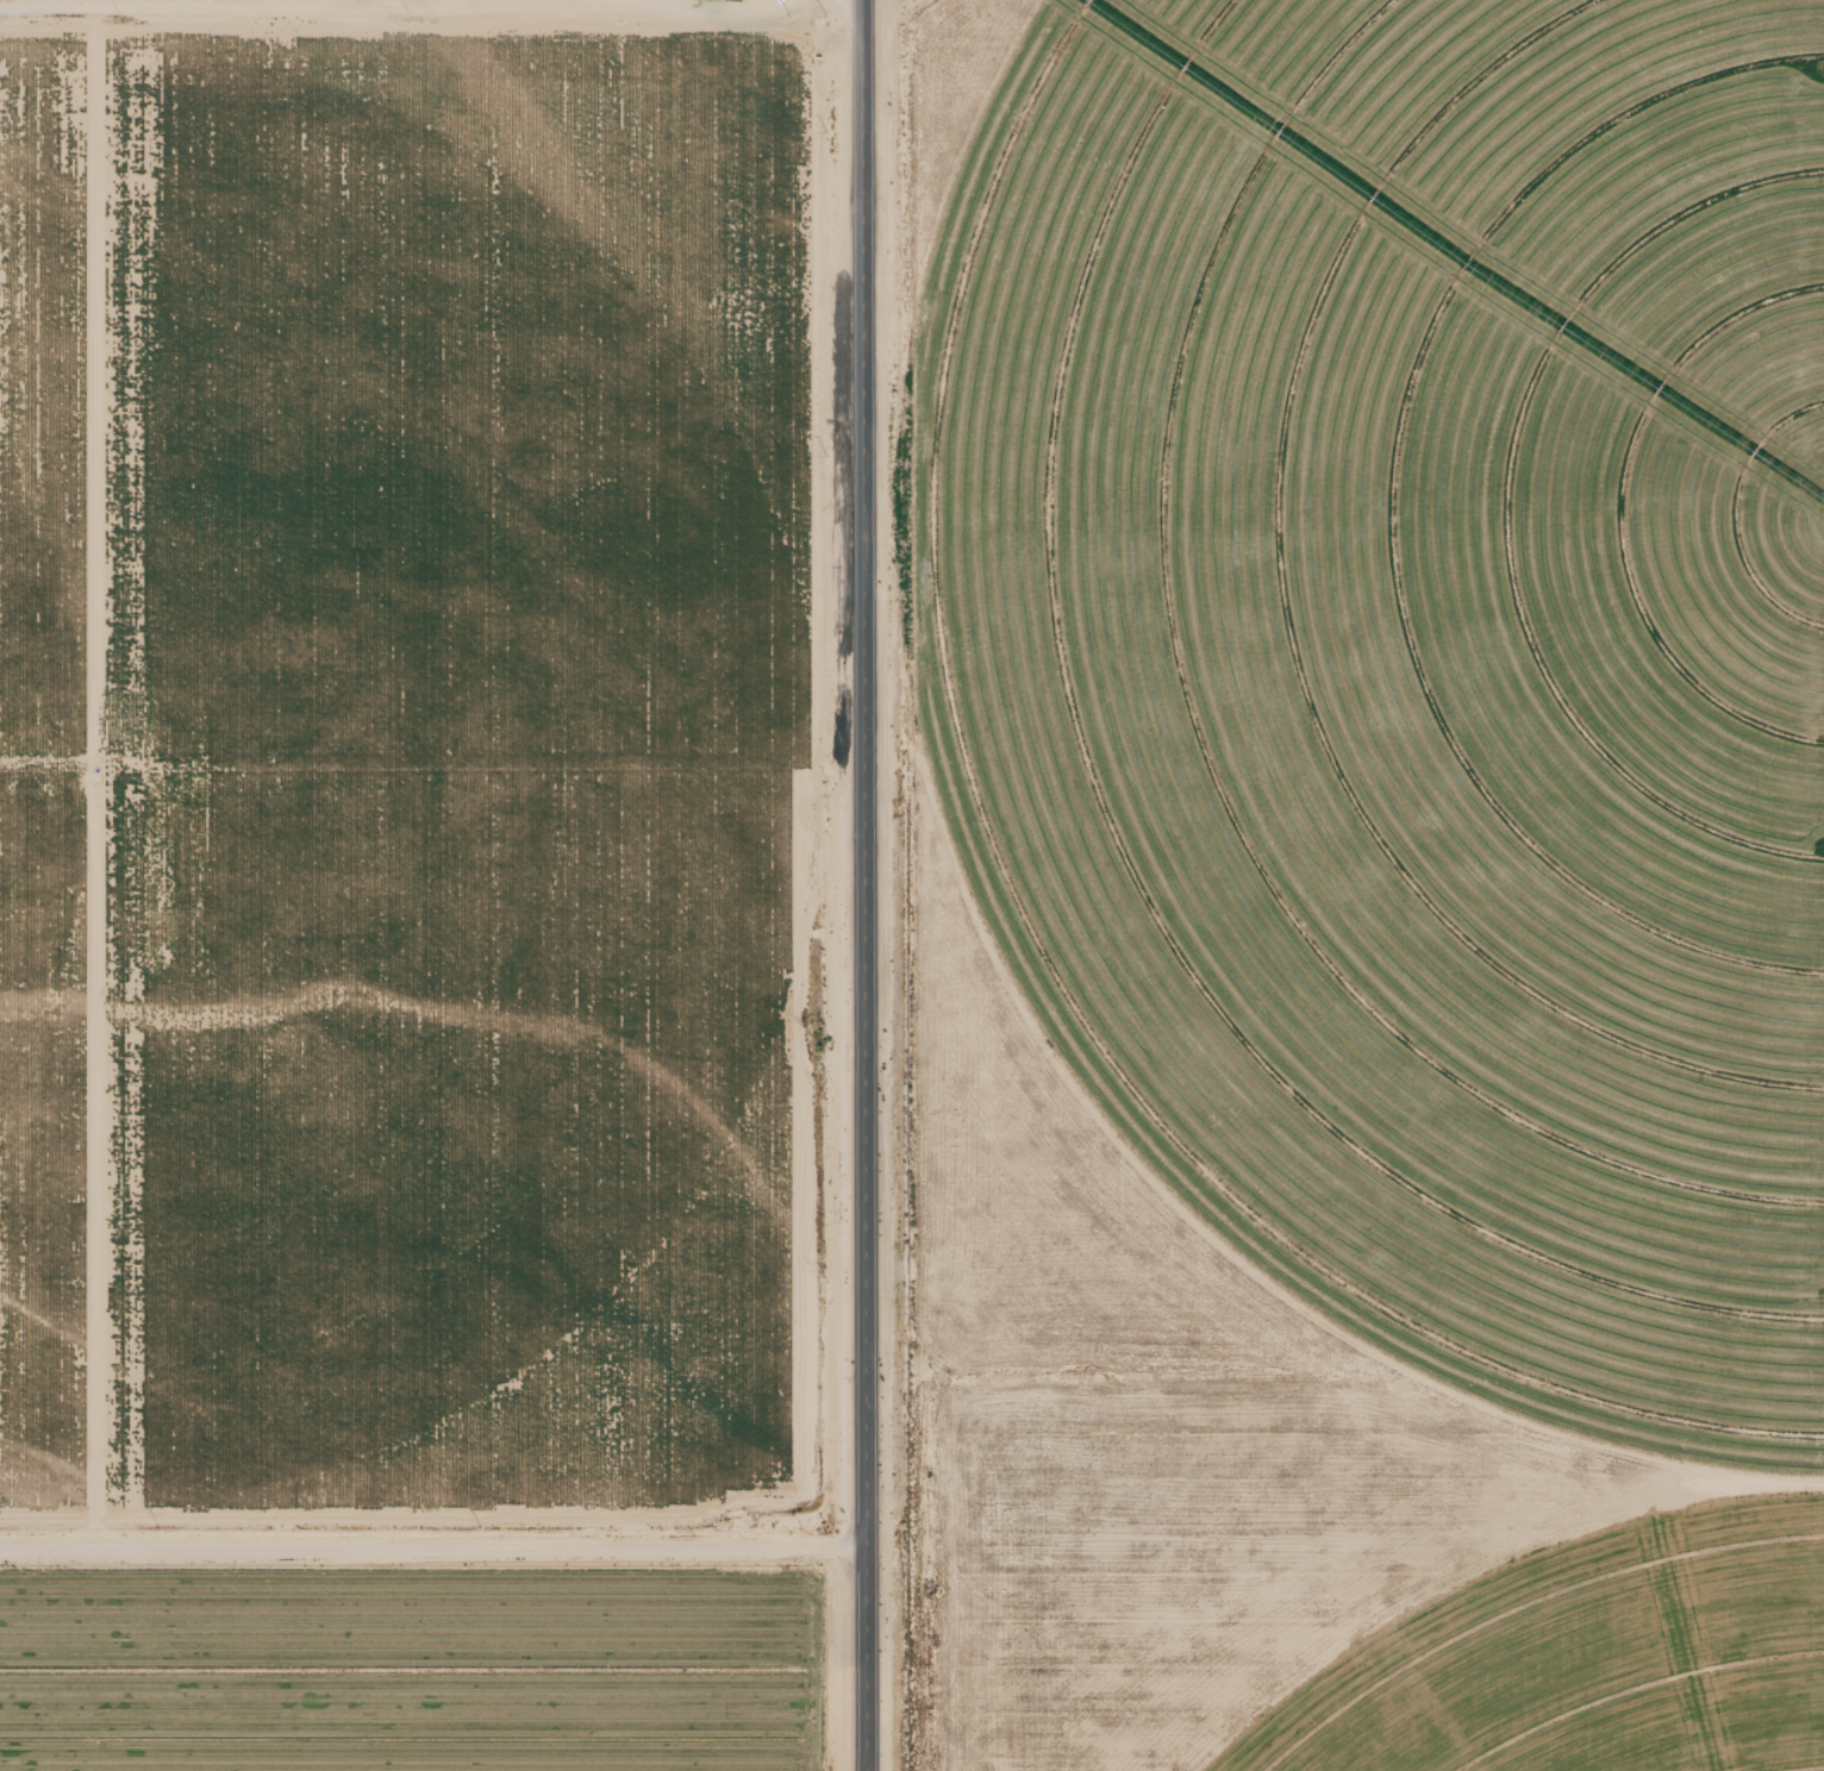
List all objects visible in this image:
road: (431, 425)
crop: (1419, 652)
road: (864, 885)
road: (433, 1547)
crop: (1601, 1670)

